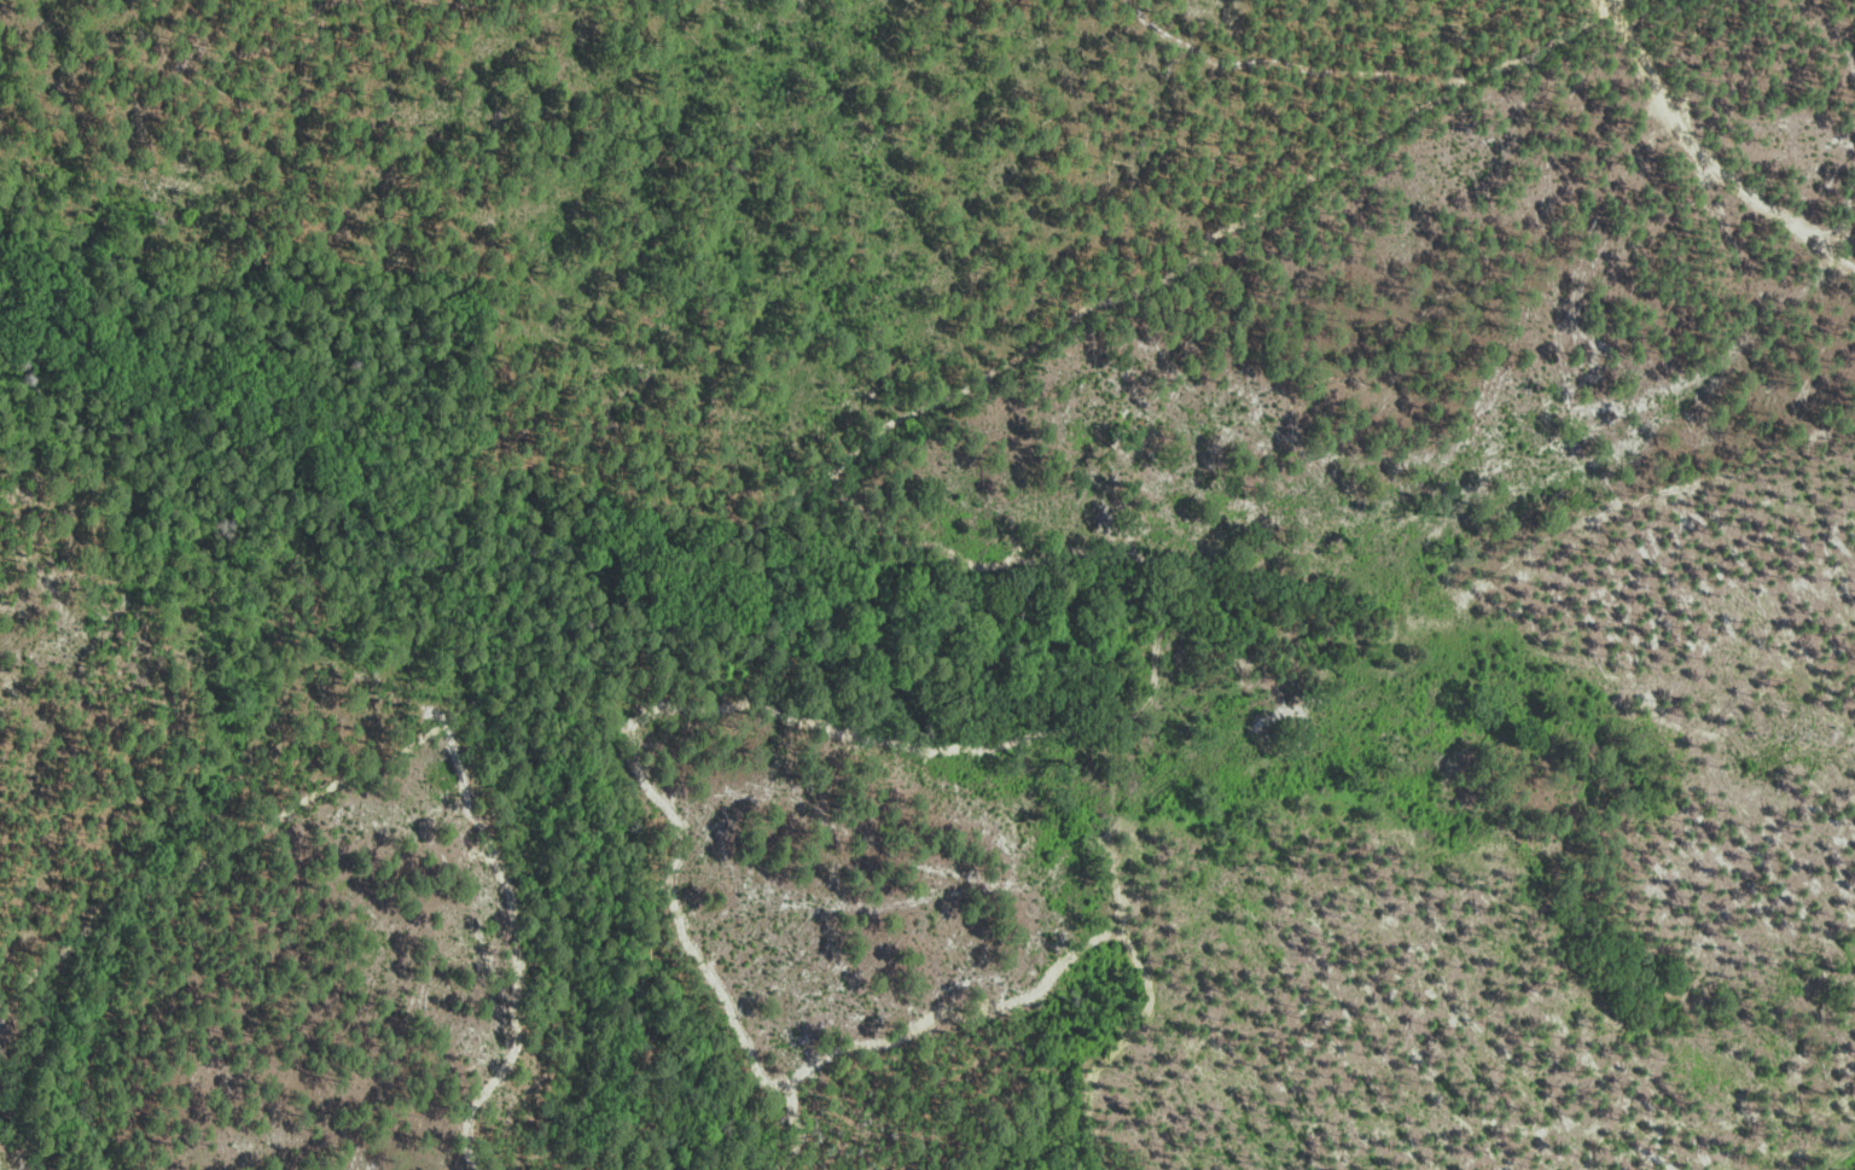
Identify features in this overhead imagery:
road: (1704, 159)
road: (1837, 1156)

